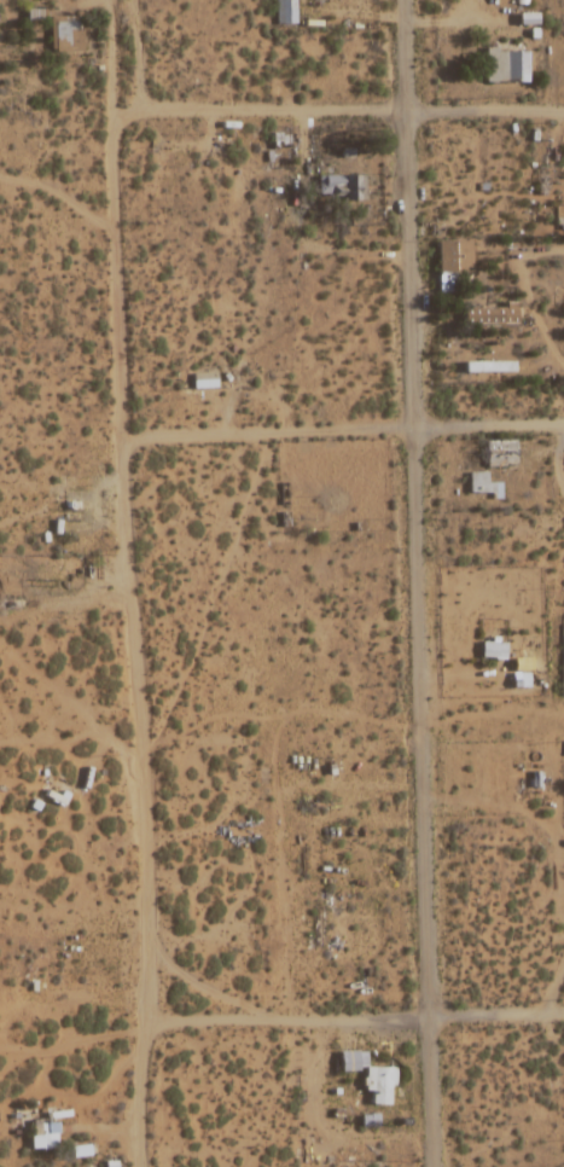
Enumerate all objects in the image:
building: (284, 12)
building: (64, 34)
road: (135, 54)
building: (506, 65)
road: (350, 110)
building: (341, 187)
building: (452, 263)
building: (492, 315)
road: (342, 429)
building: (501, 454)
building: (482, 486)
road: (415, 582)
building: (10, 606)
road: (133, 631)
building: (493, 650)
road: (353, 1016)
building: (371, 1078)
building: (47, 1134)

